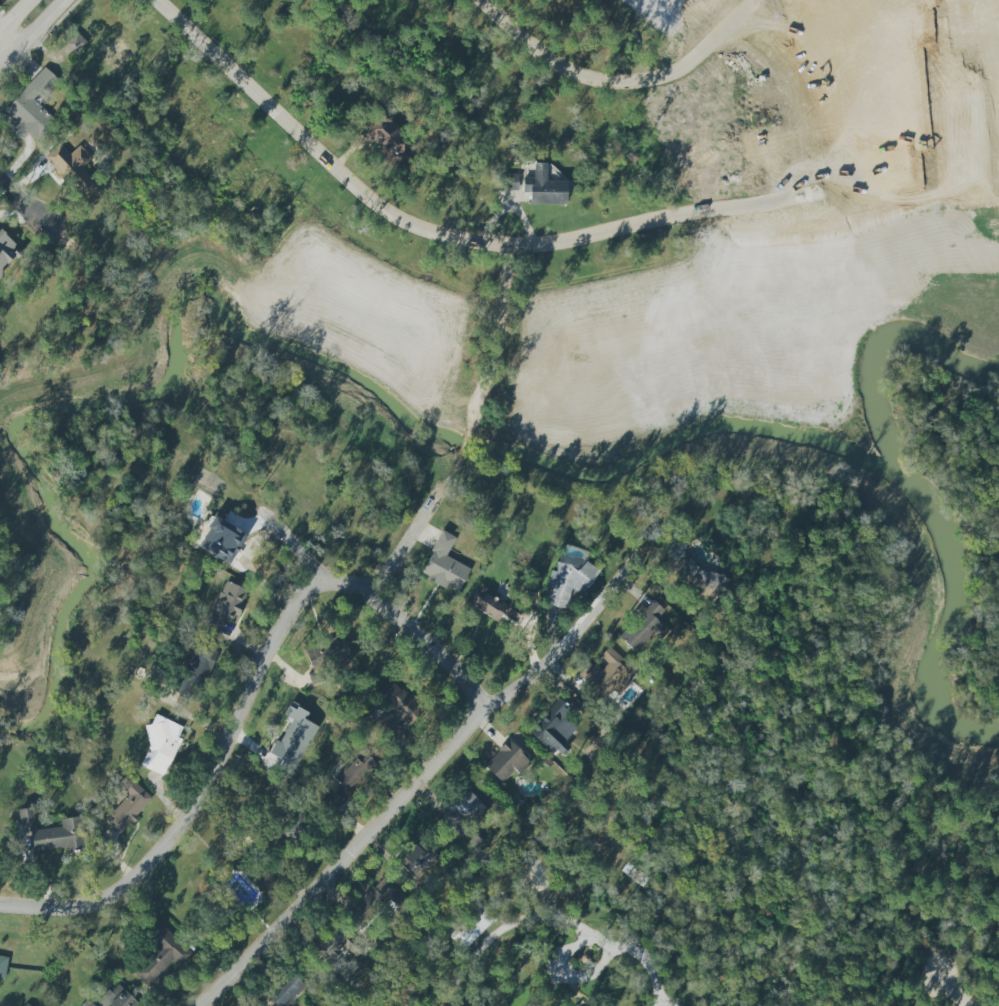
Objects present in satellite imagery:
park: (722, 5)
road: (24, 6)
park: (957, 9)
road: (970, 21)
road: (9, 22)
road: (37, 26)
building: (76, 42)
road: (6, 46)
building: (115, 49)
road: (6, 58)
road: (620, 80)
park: (983, 90)
building: (32, 107)
building: (382, 136)
road: (974, 163)
building: (72, 167)
building: (511, 182)
building: (543, 187)
road: (33, 205)
road: (596, 232)
building: (5, 250)
road: (497, 334)
road: (460, 446)
river: (920, 491)
road: (410, 535)
building: (222, 537)
building: (444, 565)
building: (568, 582)
building: (707, 582)
building: (493, 605)
building: (224, 608)
building: (642, 626)
building: (325, 650)
building: (195, 669)
building: (611, 673)
road: (251, 693)
building: (397, 710)
building: (554, 728)
building: (292, 739)
building: (160, 745)
building: (505, 761)
building: (344, 783)
road: (400, 795)
building: (127, 806)
building: (463, 813)
building: (297, 828)
building: (52, 833)
building: (415, 860)
building: (537, 873)
building: (376, 900)
building: (334, 943)
building: (158, 958)
road: (558, 965)
building: (2, 966)
road: (650, 970)
road: (951, 988)
building: (114, 997)
building: (573, 1005)

